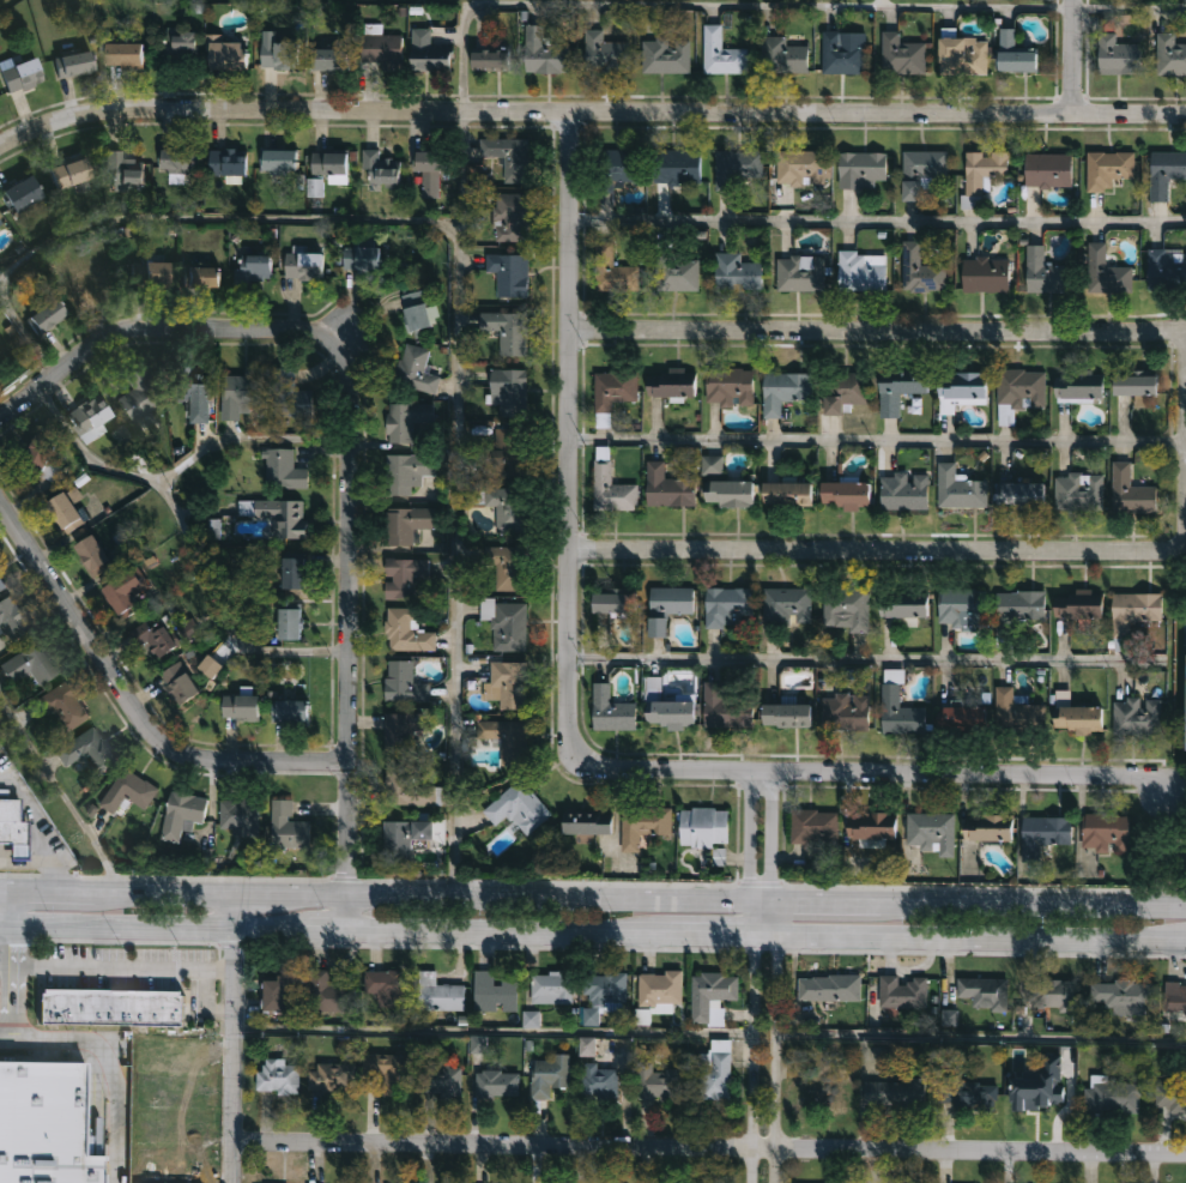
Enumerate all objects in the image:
building: (1127, 0)
road: (715, 4)
building: (178, 47)
building: (381, 49)
building: (426, 52)
building: (543, 52)
building: (223, 53)
building: (604, 53)
building: (721, 53)
building: (278, 54)
building: (122, 55)
building: (665, 55)
building: (841, 55)
building: (901, 55)
road: (1069, 55)
building: (1117, 55)
building: (1169, 55)
building: (783, 56)
building: (962, 56)
building: (327, 58)
building: (489, 59)
building: (1016, 61)
building: (72, 64)
building: (19, 76)
road: (587, 117)
building: (509, 157)
building: (278, 161)
building: (175, 163)
building: (226, 163)
building: (328, 165)
building: (621, 167)
building: (380, 168)
building: (677, 168)
building: (737, 168)
building: (801, 168)
building: (860, 168)
building: (430, 169)
building: (1107, 169)
building: (981, 170)
building: (1047, 170)
building: (920, 171)
building: (123, 173)
building: (1164, 173)
building: (68, 174)
building: (314, 188)
building: (18, 194)
building: (510, 217)
road: (876, 218)
building: (359, 258)
building: (303, 267)
building: (254, 268)
building: (1167, 268)
building: (919, 271)
building: (861, 272)
building: (1106, 272)
building: (146, 273)
building: (617, 273)
building: (737, 273)
building: (800, 273)
building: (1045, 273)
building: (509, 274)
building: (678, 274)
building: (985, 274)
building: (200, 277)
building: (90, 282)
building: (416, 310)
building: (43, 316)
road: (453, 327)
road: (873, 328)
building: (508, 331)
road: (25, 333)
building: (416, 369)
building: (670, 382)
building: (728, 386)
building: (1078, 386)
building: (1133, 386)
building: (190, 387)
building: (1021, 388)
building: (897, 390)
building: (960, 390)
building: (508, 391)
building: (612, 391)
building: (782, 391)
building: (242, 392)
building: (842, 392)
building: (290, 394)
building: (138, 396)
building: (87, 420)
building: (405, 420)
road: (872, 437)
road: (349, 449)
building: (506, 451)
road: (83, 454)
building: (38, 459)
building: (283, 470)
building: (407, 472)
building: (611, 488)
building: (666, 488)
building: (958, 489)
building: (903, 491)
building: (1078, 493)
building: (1130, 493)
building: (728, 494)
building: (785, 494)
building: (843, 495)
building: (1021, 495)
building: (506, 507)
building: (63, 512)
building: (278, 515)
road: (177, 520)
building: (405, 525)
road: (981, 550)
building: (91, 555)
building: (506, 568)
building: (292, 575)
building: (403, 578)
building: (0, 591)
building: (123, 593)
building: (613, 602)
building: (901, 604)
building: (1077, 605)
building: (666, 606)
building: (787, 606)
building: (961, 606)
building: (727, 608)
building: (847, 608)
building: (1019, 608)
building: (1133, 610)
building: (11, 620)
building: (289, 624)
building: (509, 626)
building: (406, 632)
building: (153, 644)
road: (863, 660)
building: (29, 666)
building: (176, 681)
building: (404, 682)
building: (509, 686)
road: (127, 704)
building: (240, 706)
building: (61, 708)
building: (290, 708)
building: (665, 708)
building: (726, 708)
building: (611, 711)
building: (843, 713)
building: (898, 713)
building: (1016, 713)
building: (785, 716)
building: (1137, 717)
building: (961, 719)
building: (1076, 720)
building: (401, 730)
road: (571, 737)
building: (506, 740)
building: (1185, 747)
building: (86, 750)
building: (406, 787)
building: (127, 791)
building: (518, 807)
building: (180, 814)
building: (238, 815)
building: (585, 822)
building: (643, 823)
building: (870, 825)
building: (288, 826)
road: (32, 827)
building: (703, 827)
building: (986, 827)
building: (813, 828)
building: (12, 831)
building: (1105, 832)
building: (931, 833)
building: (1042, 834)
building: (401, 837)
road: (24, 868)
road: (1162, 870)
road: (592, 899)
road: (8, 909)
road: (153, 927)
road: (328, 927)
road: (507, 929)
road: (707, 934)
road: (760, 935)
road: (979, 936)
road: (119, 970)
road: (748, 976)
road: (773, 976)
building: (387, 983)
road: (5, 984)
building: (829, 985)
building: (551, 986)
building: (658, 988)
building: (605, 989)
building: (495, 990)
building: (902, 990)
building: (981, 990)
building: (438, 992)
building: (278, 994)
building: (328, 994)
building: (1048, 994)
building: (1123, 995)
building: (1174, 995)
building: (710, 996)
road: (204, 1004)
building: (110, 1009)
road: (490, 1032)
road: (231, 1038)
road: (980, 1038)
road: (102, 1063)
building: (386, 1070)
building: (715, 1070)
building: (278, 1075)
building: (550, 1075)
building: (331, 1076)
building: (441, 1079)
building: (598, 1079)
building: (658, 1081)
building: (496, 1082)
building: (966, 1091)
building: (821, 1092)
building: (895, 1092)
building: (1041, 1094)
building: (1112, 1097)
building: (1170, 1098)
building: (43, 1124)
road: (706, 1145)

